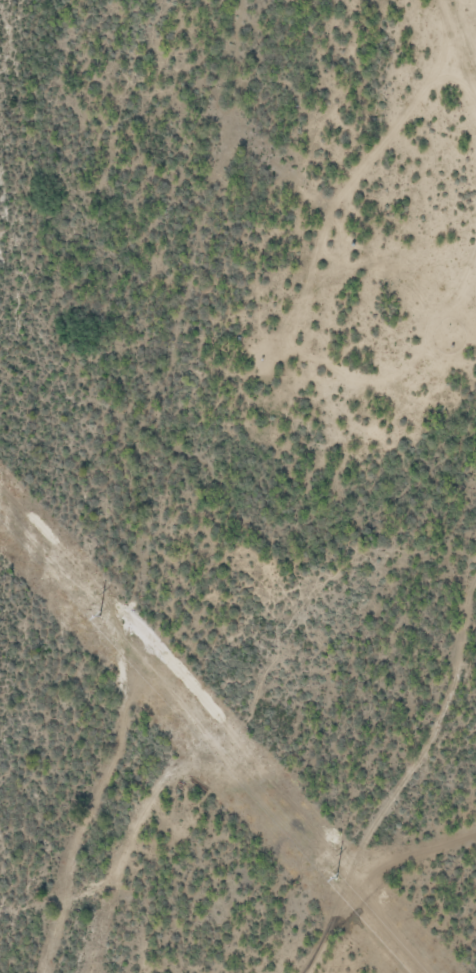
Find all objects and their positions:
power tower: (91, 609)
road: (407, 785)
power tower: (330, 871)

